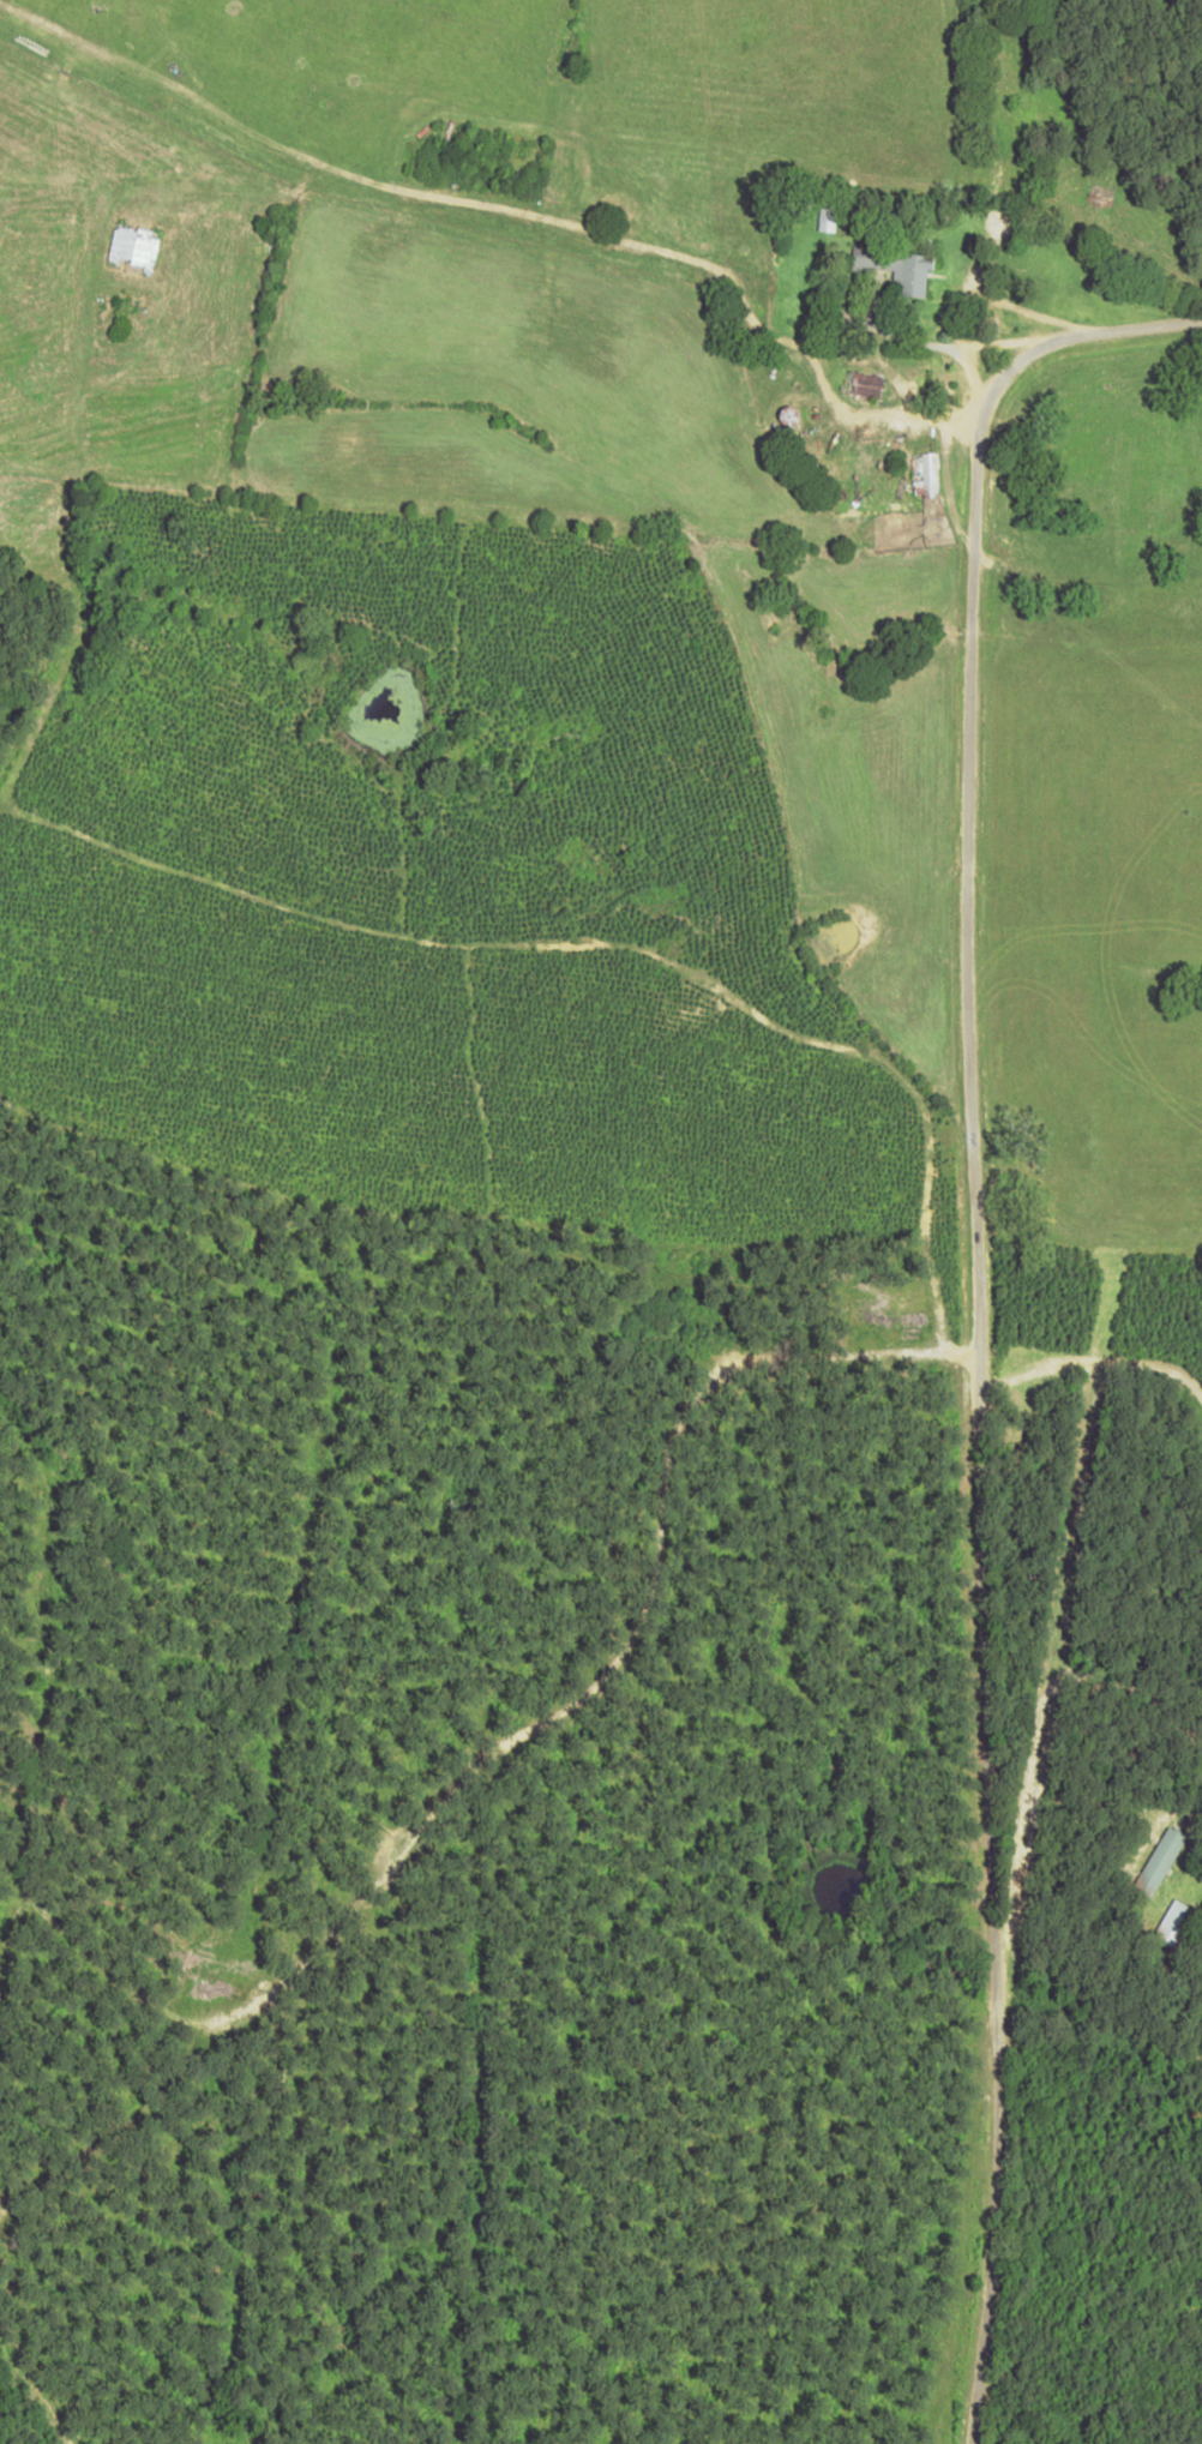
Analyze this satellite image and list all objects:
road: (1036, 199)
building: (897, 268)
road: (1128, 368)
building: (865, 383)
road: (655, 395)
building: (925, 474)
road: (999, 1418)
building: (1159, 1861)
building: (1176, 1922)

